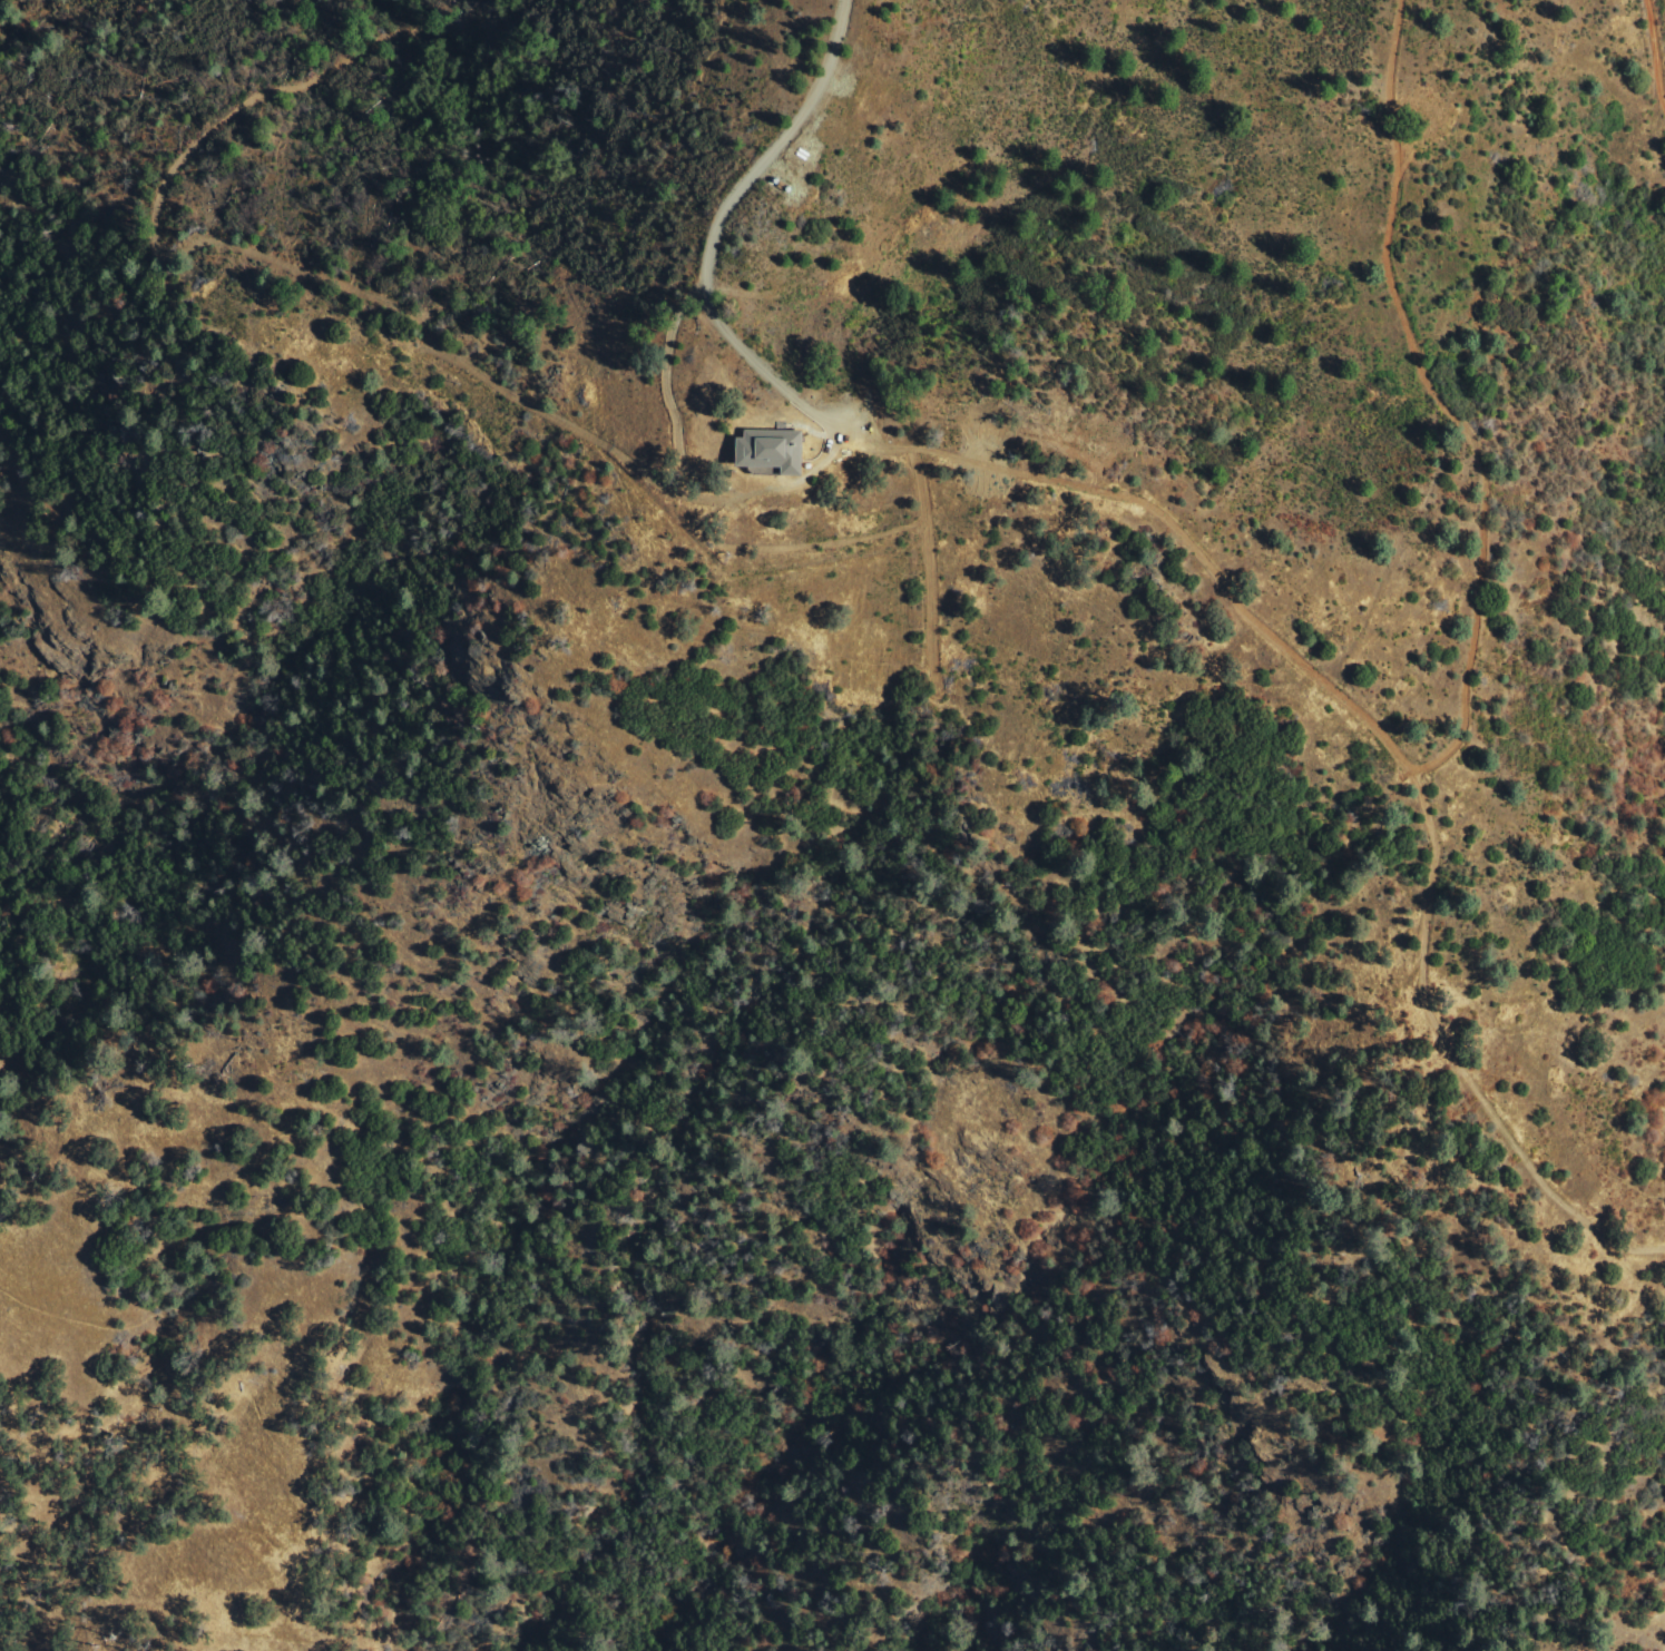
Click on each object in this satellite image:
building: (778, 454)

